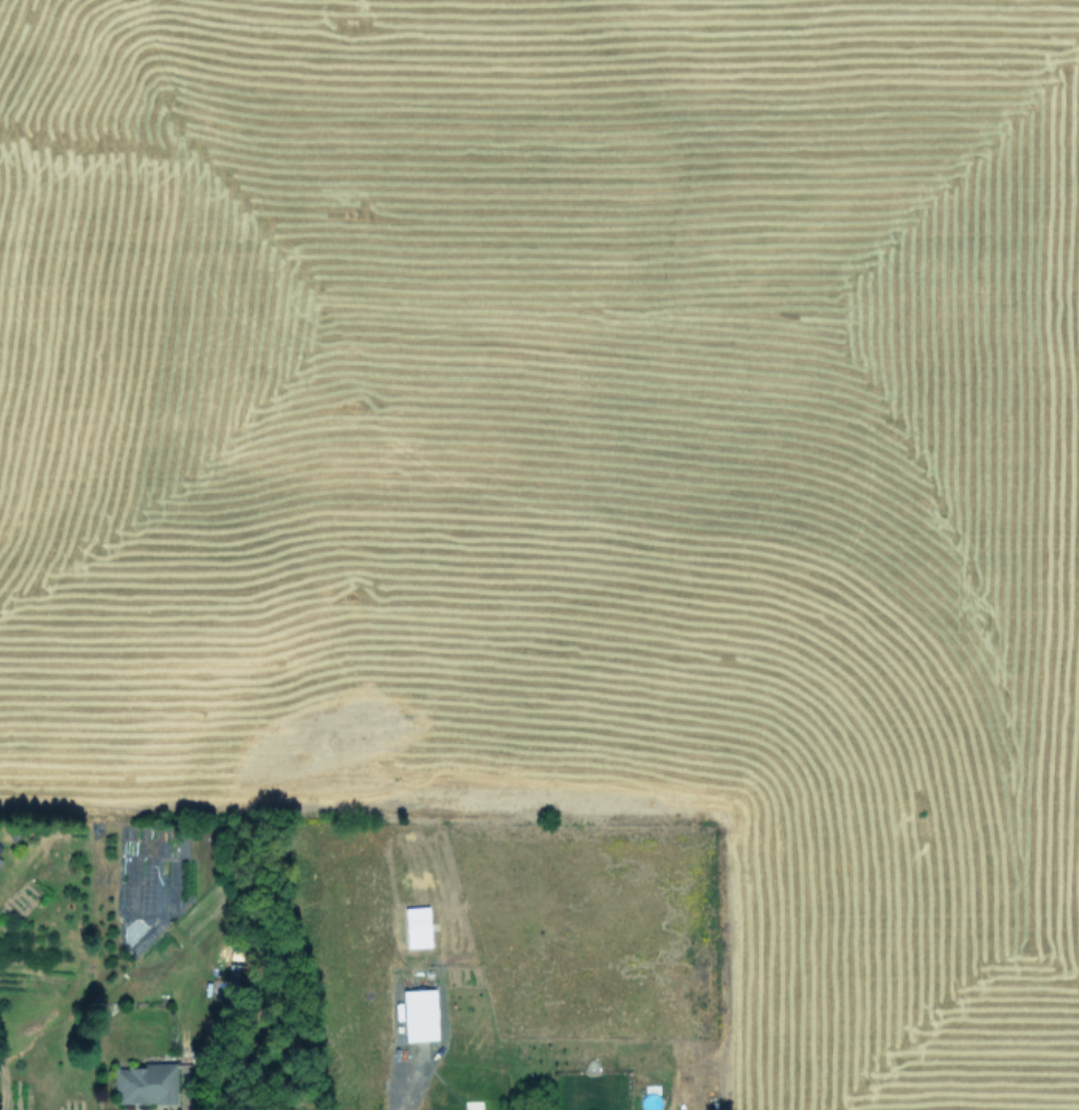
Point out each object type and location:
crop: (539, 555)
building: (0, 847)
building: (0, 861)
building: (418, 1014)
building: (145, 1084)
road: (406, 1087)
road: (1, 1088)

